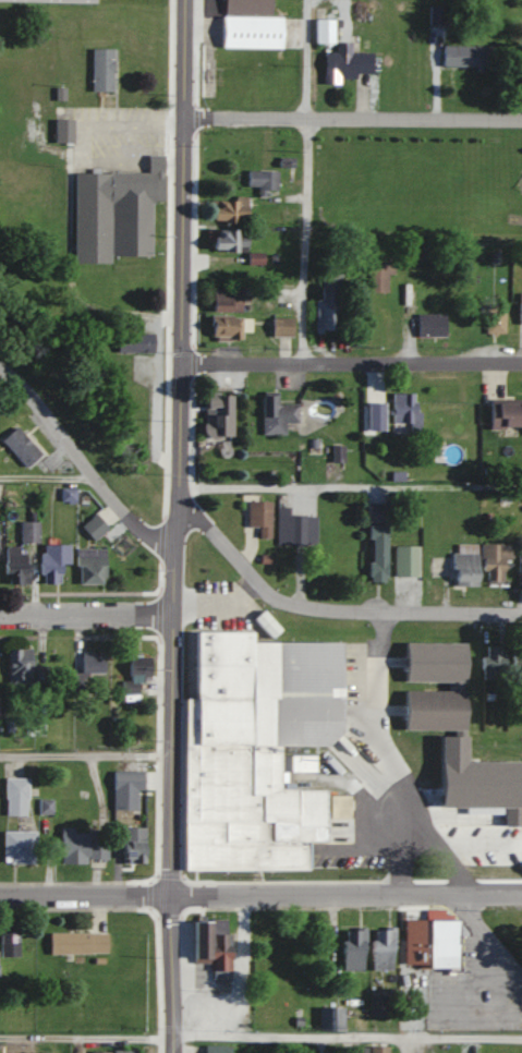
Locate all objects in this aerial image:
building: (50, 1)
building: (251, 7)
building: (321, 31)
building: (254, 32)
building: (464, 56)
building: (521, 57)
building: (343, 64)
building: (100, 70)
road: (353, 116)
road: (304, 118)
building: (61, 131)
building: (260, 178)
building: (227, 207)
building: (113, 211)
road: (350, 235)
building: (223, 238)
building: (378, 267)
road: (183, 273)
building: (222, 299)
building: (326, 303)
building: (520, 306)
building: (493, 317)
building: (428, 324)
building: (280, 326)
building: (226, 328)
building: (133, 341)
road: (352, 362)
building: (403, 409)
building: (275, 413)
building: (214, 414)
building: (505, 414)
building: (19, 445)
road: (85, 463)
road: (46, 473)
road: (350, 487)
building: (375, 511)
building: (257, 516)
building: (298, 528)
building: (27, 530)
building: (375, 550)
building: (403, 559)
building: (51, 560)
building: (13, 564)
building: (493, 564)
building: (89, 565)
building: (463, 565)
building: (519, 569)
road: (329, 608)
road: (88, 615)
building: (491, 663)
building: (90, 664)
building: (16, 665)
building: (134, 671)
building: (430, 709)
building: (255, 750)
road: (87, 751)
building: (125, 779)
building: (14, 796)
road: (174, 799)
building: (131, 844)
building: (17, 846)
road: (260, 895)
road: (488, 936)
building: (8, 942)
building: (75, 942)
building: (209, 944)
building: (352, 947)
building: (380, 948)
building: (425, 951)
building: (329, 1018)
road: (260, 1034)
building: (216, 1049)
building: (364, 1049)
building: (122, 1051)

